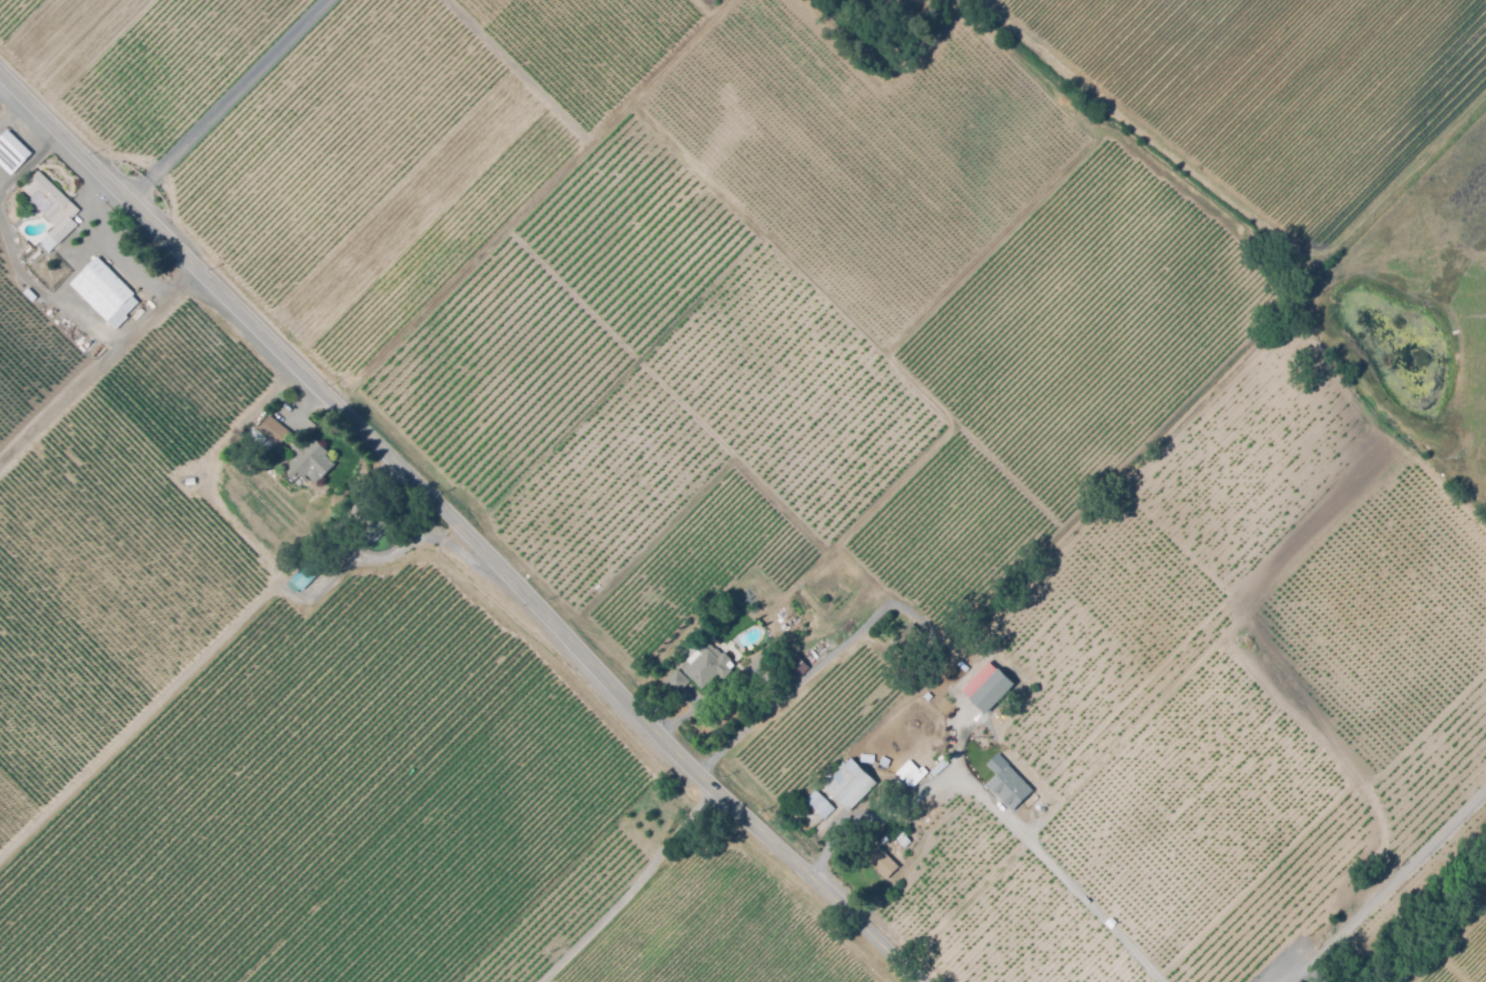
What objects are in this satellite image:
road: (225, 97)
building: (12, 152)
building: (52, 209)
building: (106, 291)
building: (29, 294)
building: (272, 433)
building: (307, 457)
building: (189, 480)
building: (385, 512)
road: (460, 526)
building: (308, 573)
building: (911, 637)
building: (705, 663)
building: (796, 668)
building: (676, 679)
road: (807, 679)
building: (985, 686)
building: (946, 714)
building: (991, 753)
building: (883, 760)
building: (911, 774)
building: (1007, 782)
building: (850, 784)
building: (863, 802)
building: (820, 803)
building: (869, 808)
road: (1001, 814)
building: (926, 821)
building: (902, 838)
building: (882, 861)
road: (1391, 888)
road: (634, 890)
road: (545, 981)
building: (1299, 981)

